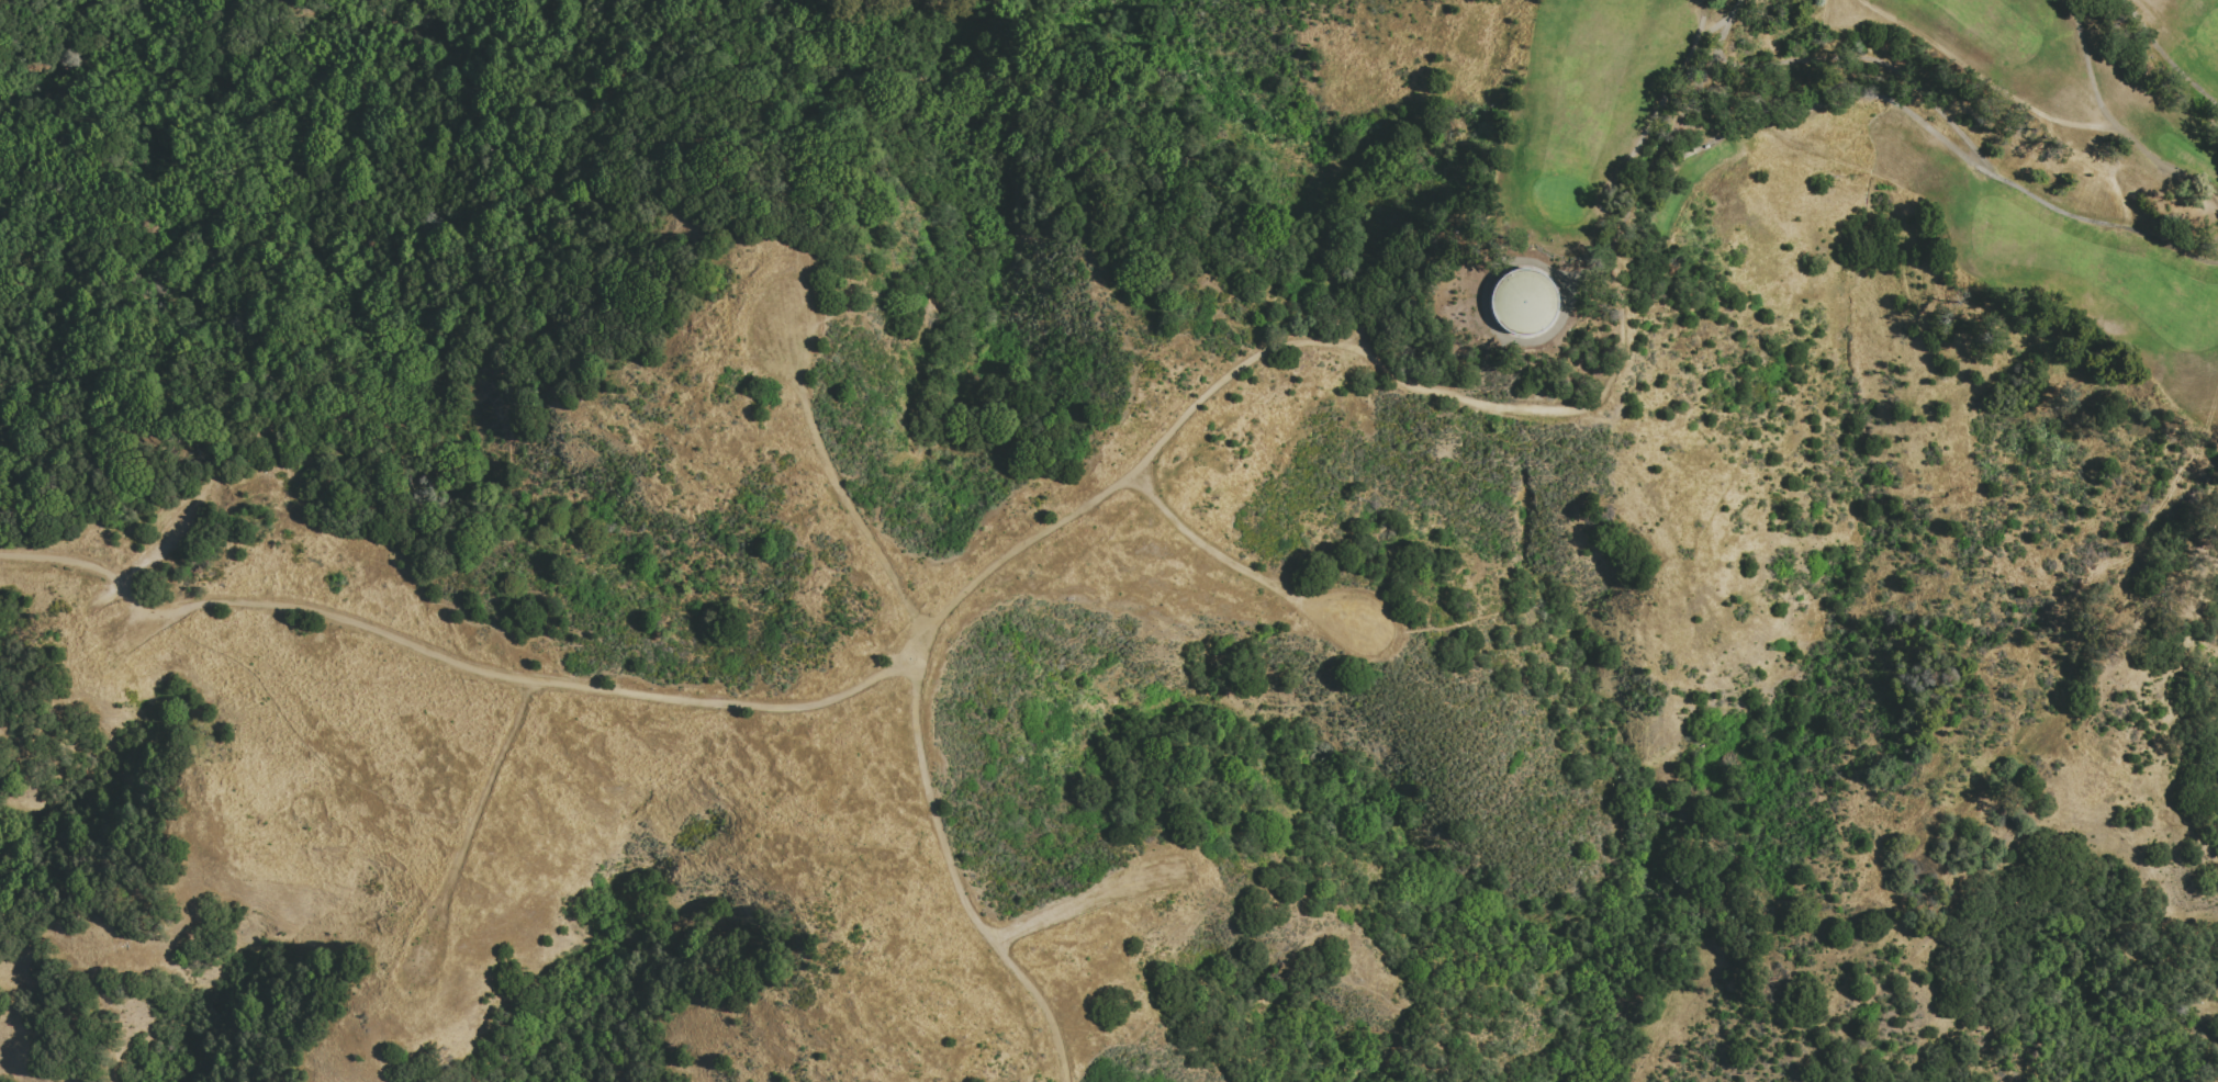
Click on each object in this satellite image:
road: (2162, 58)
road: (1869, 59)
road: (1799, 110)
road: (2113, 122)
road: (475, 162)
road: (1640, 190)
park: (1560, 198)
park: (1916, 204)
building: (1523, 303)
storage tank: (1523, 303)
road: (1232, 567)
road: (852, 691)
road: (917, 733)
park: (2117, 963)

